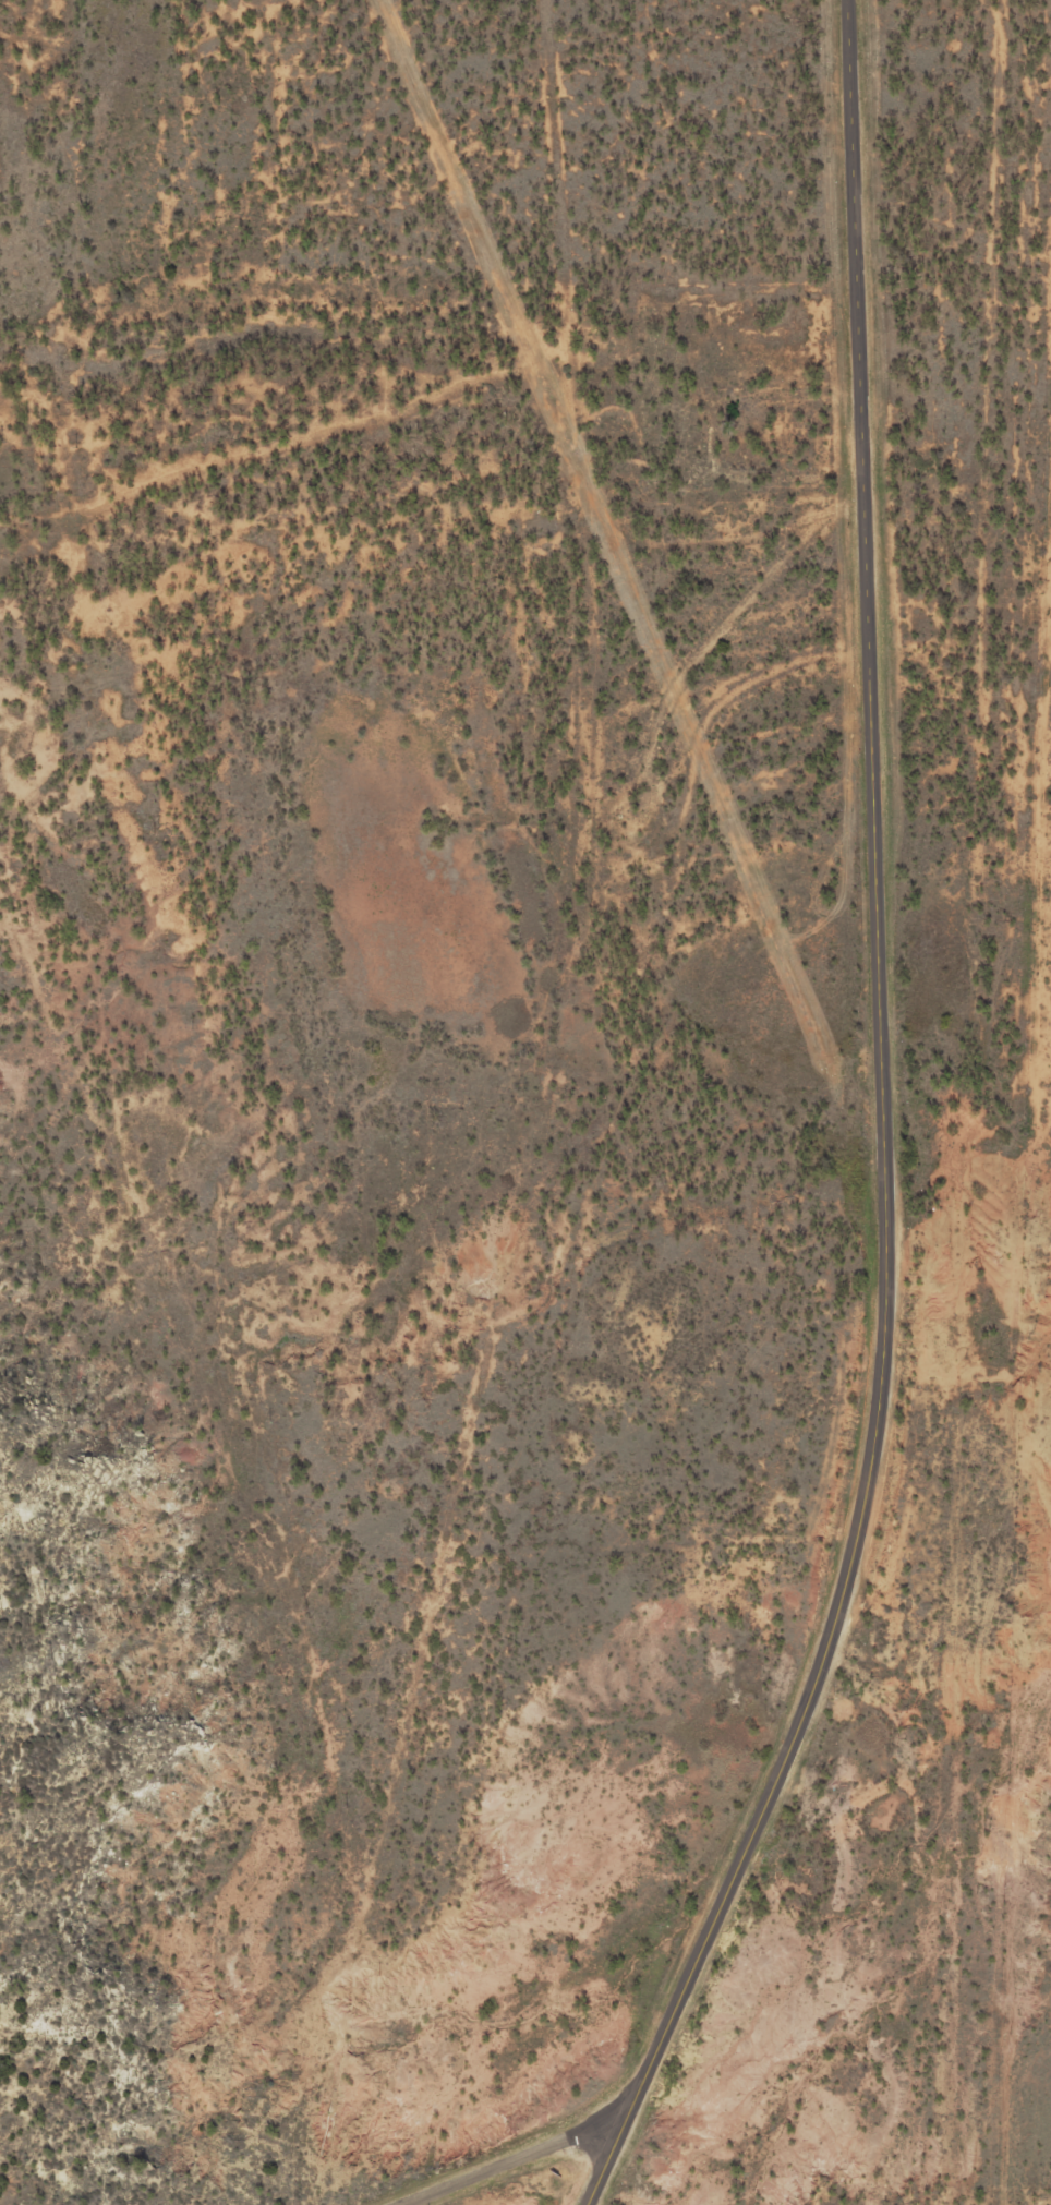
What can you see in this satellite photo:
road: (878, 1130)
road: (511, 2158)

